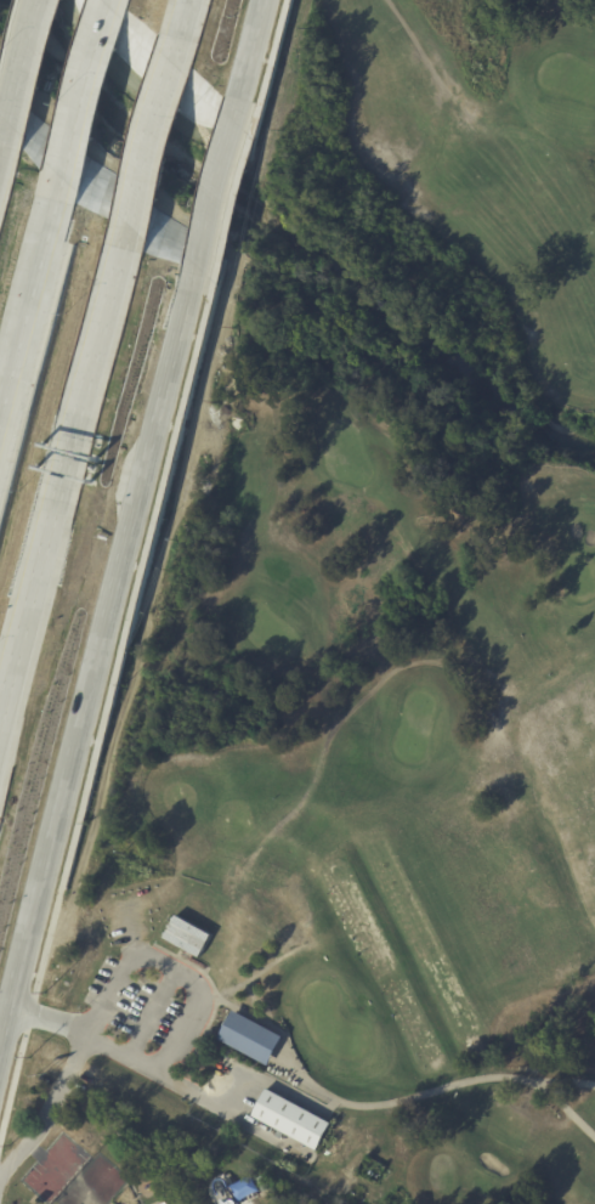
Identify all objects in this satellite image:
road: (180, 21)
road: (415, 39)
road: (250, 50)
road: (265, 56)
road: (18, 79)
road: (85, 92)
road: (151, 135)
road: (216, 188)
road: (231, 198)
road: (30, 306)
road: (62, 479)
park: (396, 590)
road: (93, 668)
road: (101, 702)
building: (188, 935)
road: (172, 966)
parking lot: (146, 1010)
road: (153, 1013)
building: (249, 1035)
road: (147, 1068)
road: (566, 1081)
road: (271, 1083)
road: (435, 1090)
road: (50, 1112)
building: (290, 1118)
building: (278, 1135)
building: (244, 1187)
building: (165, 1203)
building: (169, 1203)

